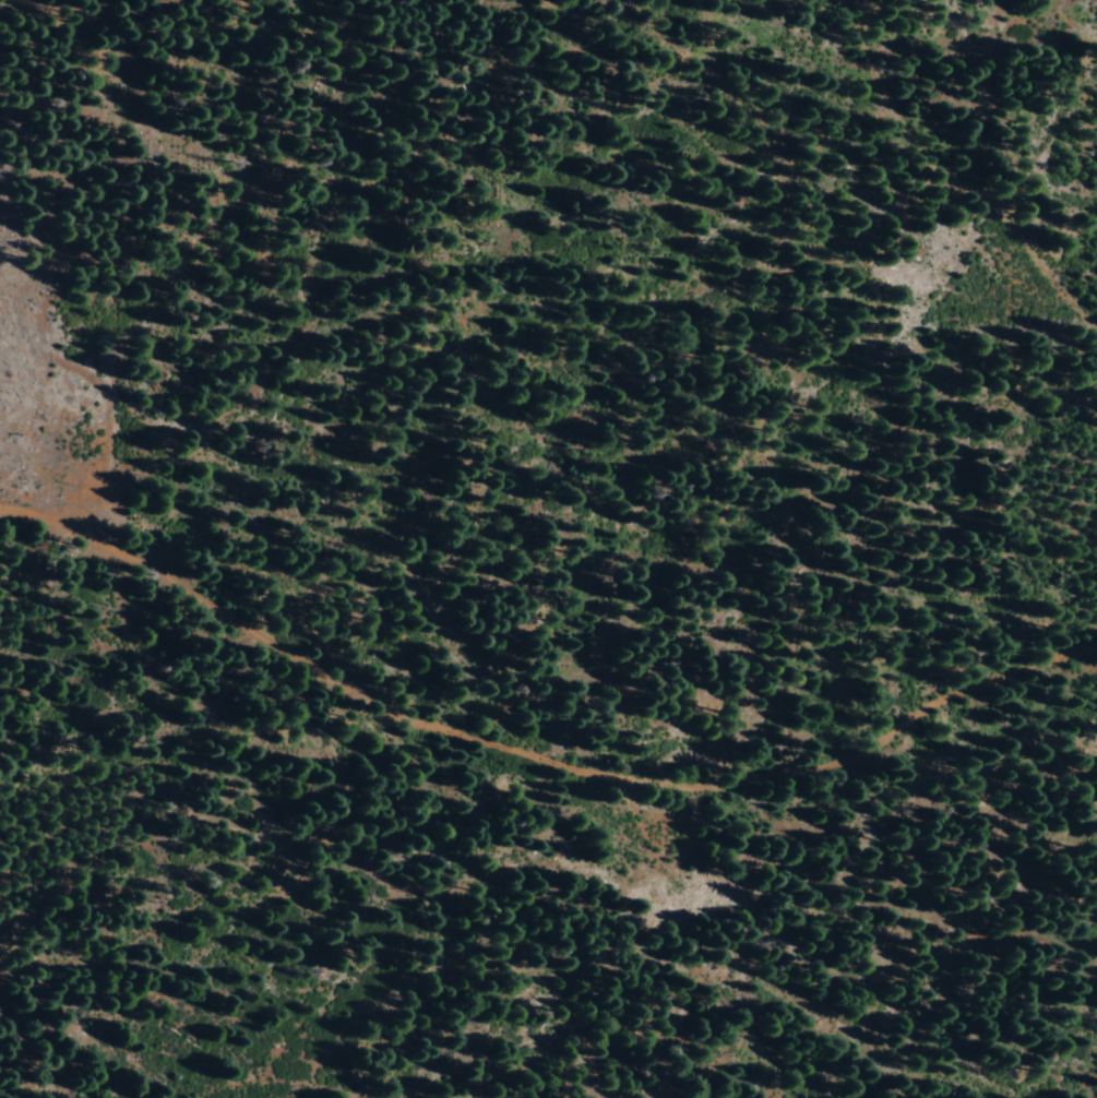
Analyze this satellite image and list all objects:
road: (943, 184)
road: (538, 761)

